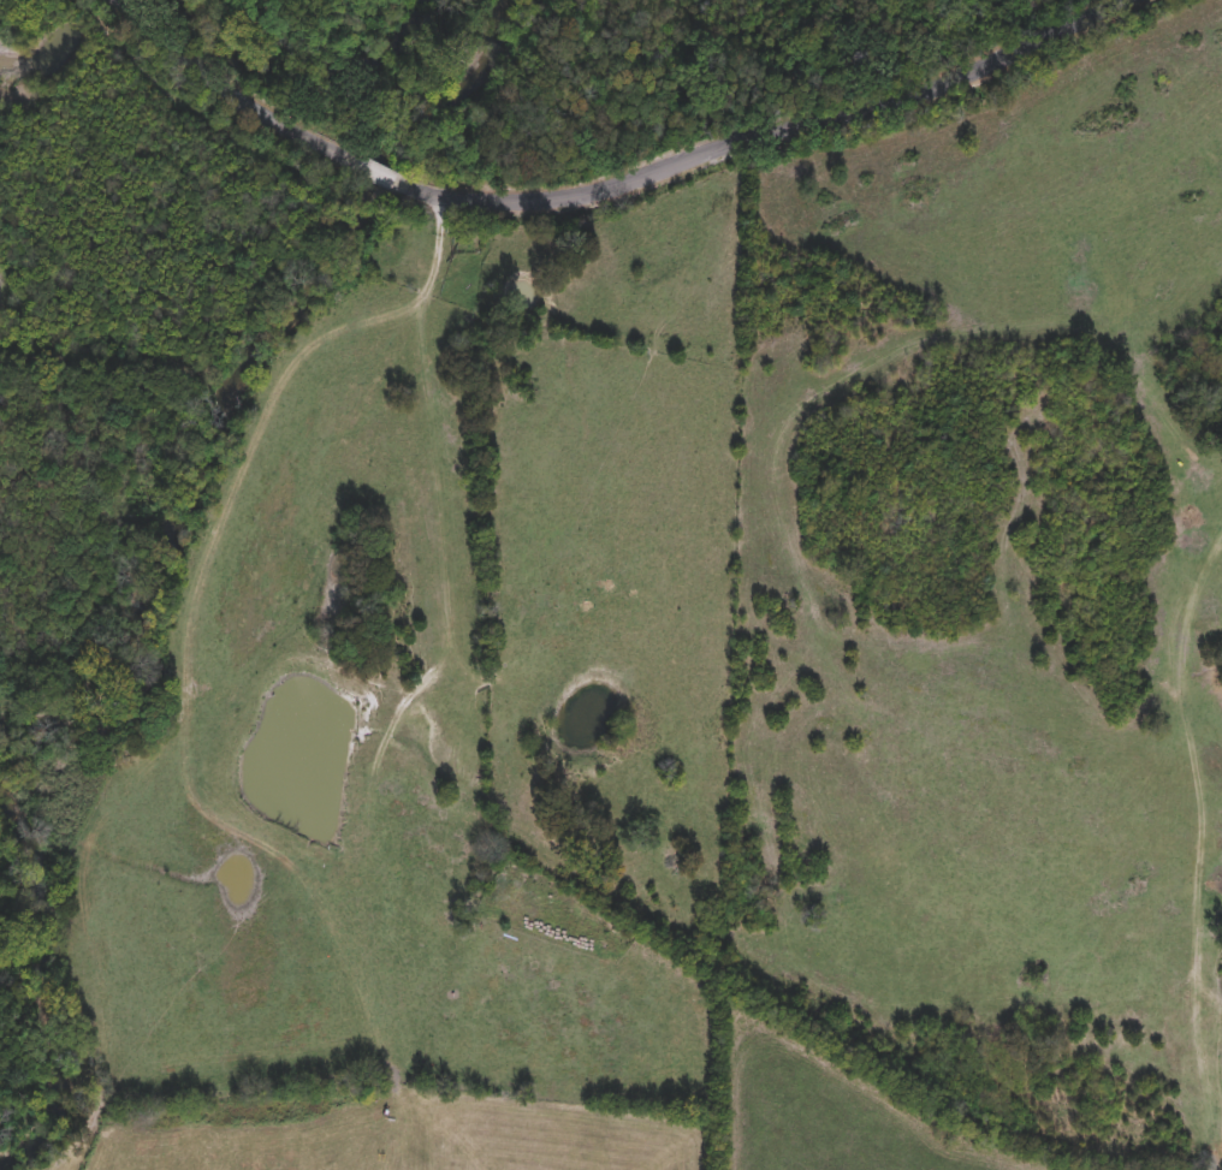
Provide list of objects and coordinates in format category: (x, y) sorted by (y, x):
road: (613, 188)

